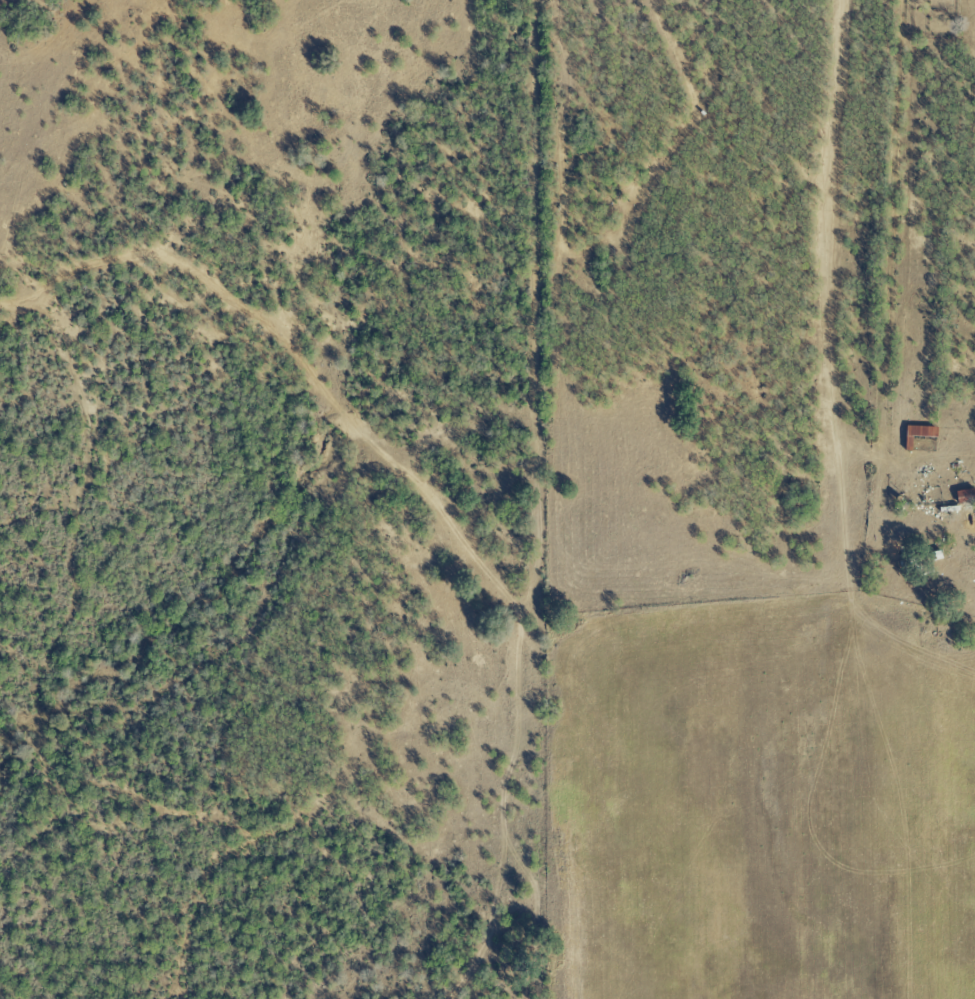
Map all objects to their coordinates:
road: (888, 244)

